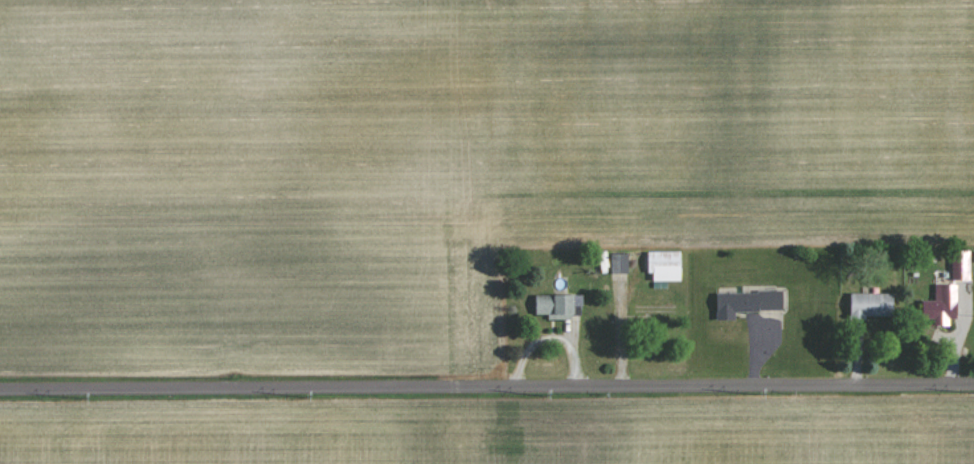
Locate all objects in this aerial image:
building: (615, 263)
building: (658, 265)
building: (956, 265)
building: (741, 303)
building: (552, 304)
building: (865, 305)
building: (935, 306)
road: (486, 384)
power tower: (761, 395)
power tower: (547, 397)
power tower: (85, 399)
power tower: (307, 399)

